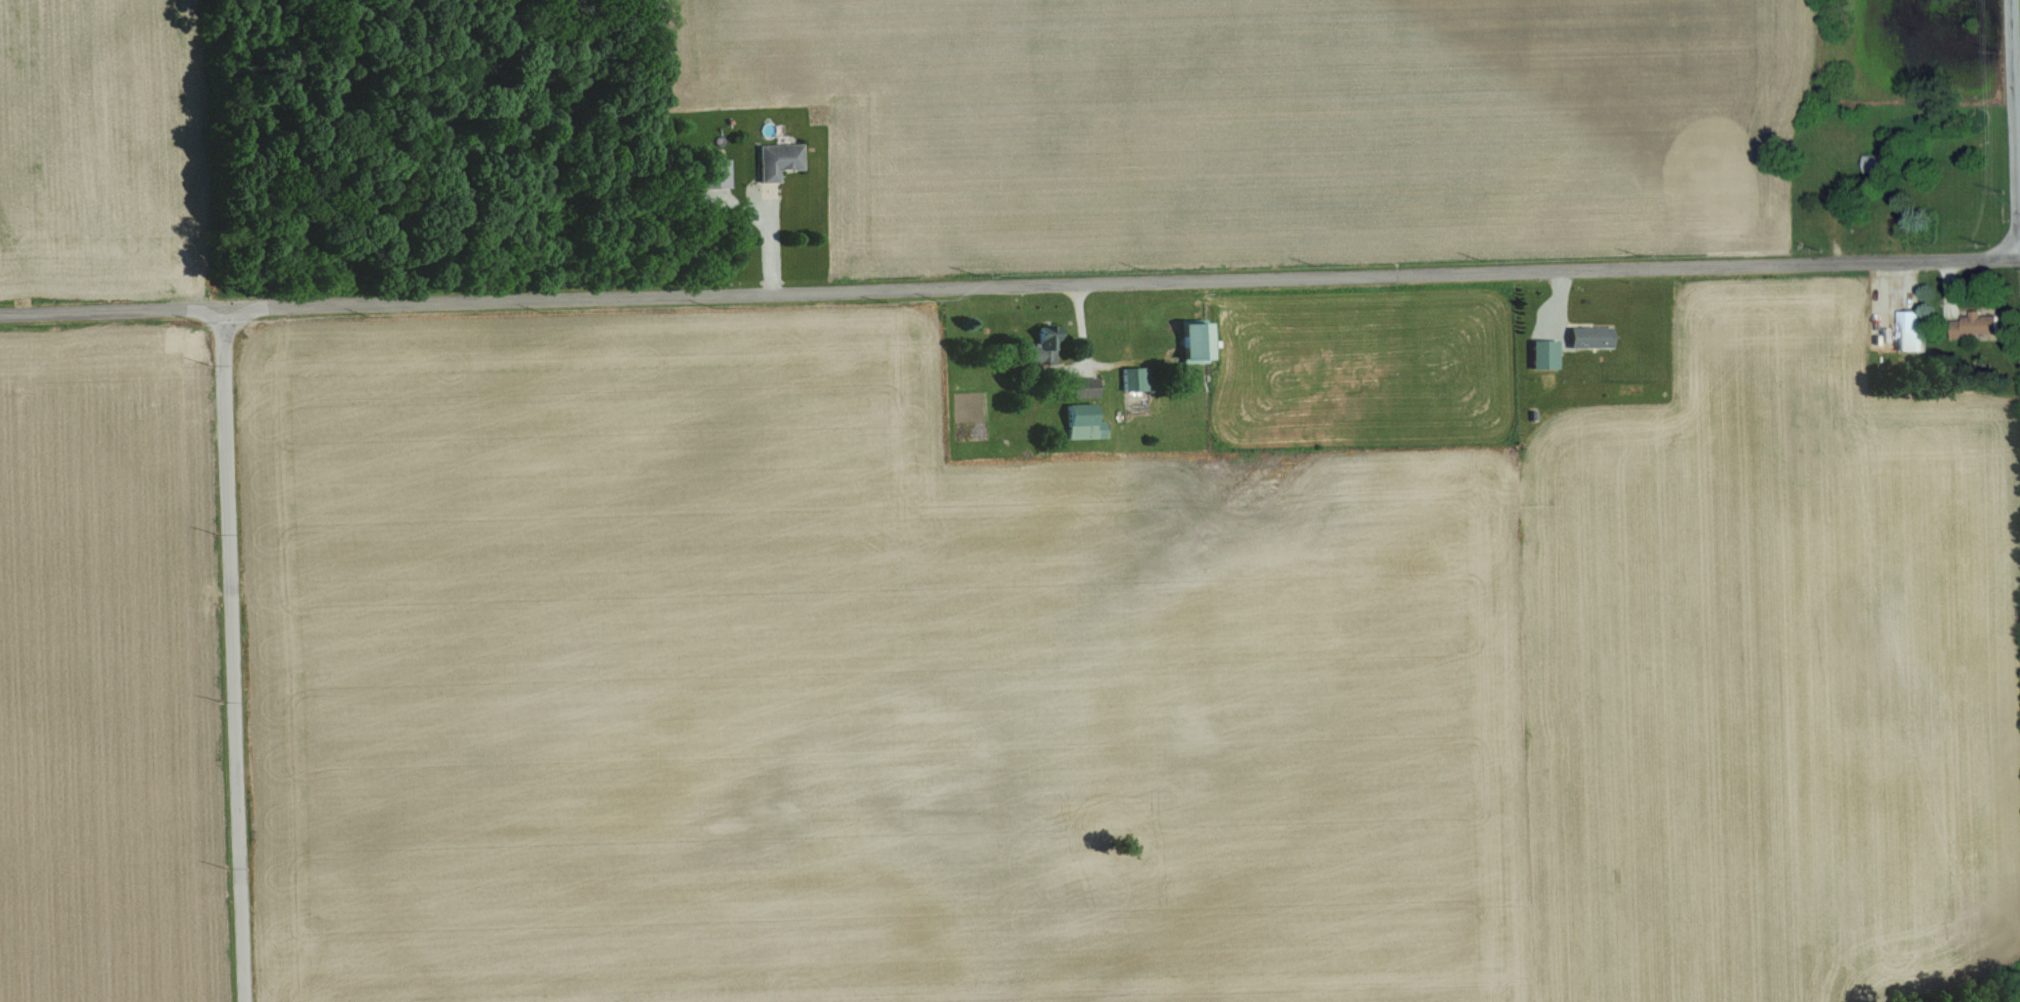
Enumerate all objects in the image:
road: (2012, 128)
building: (778, 159)
building: (1877, 161)
road: (1009, 285)
building: (1975, 324)
building: (1910, 329)
building: (1591, 335)
building: (1196, 340)
building: (1043, 346)
building: (1545, 352)
building: (1135, 377)
building: (1085, 386)
building: (1084, 421)
road: (233, 654)

